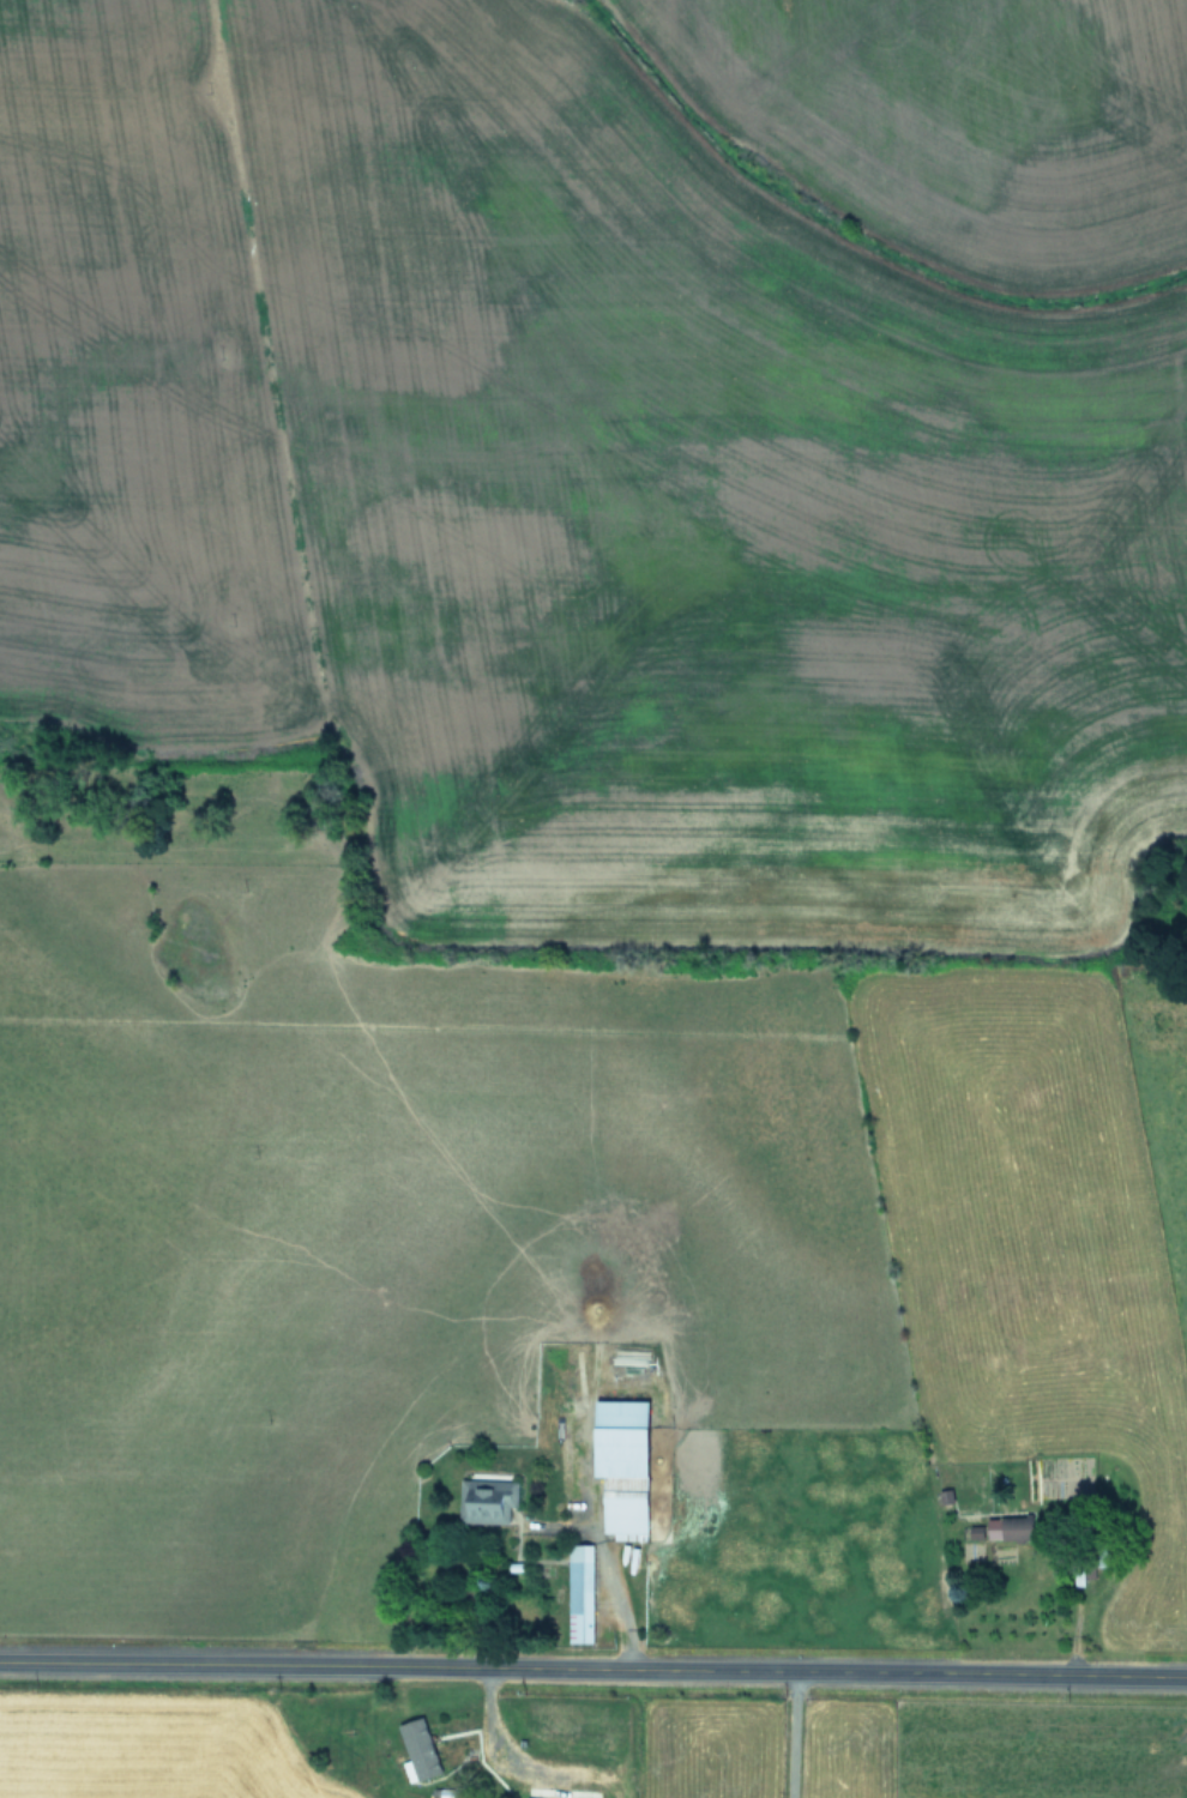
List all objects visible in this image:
crop: (593, 899)
building: (619, 1464)
building: (484, 1501)
building: (1006, 1528)
road: (605, 1570)
building: (577, 1593)
road: (592, 1670)
road: (494, 1734)
road: (790, 1736)
building: (415, 1750)

